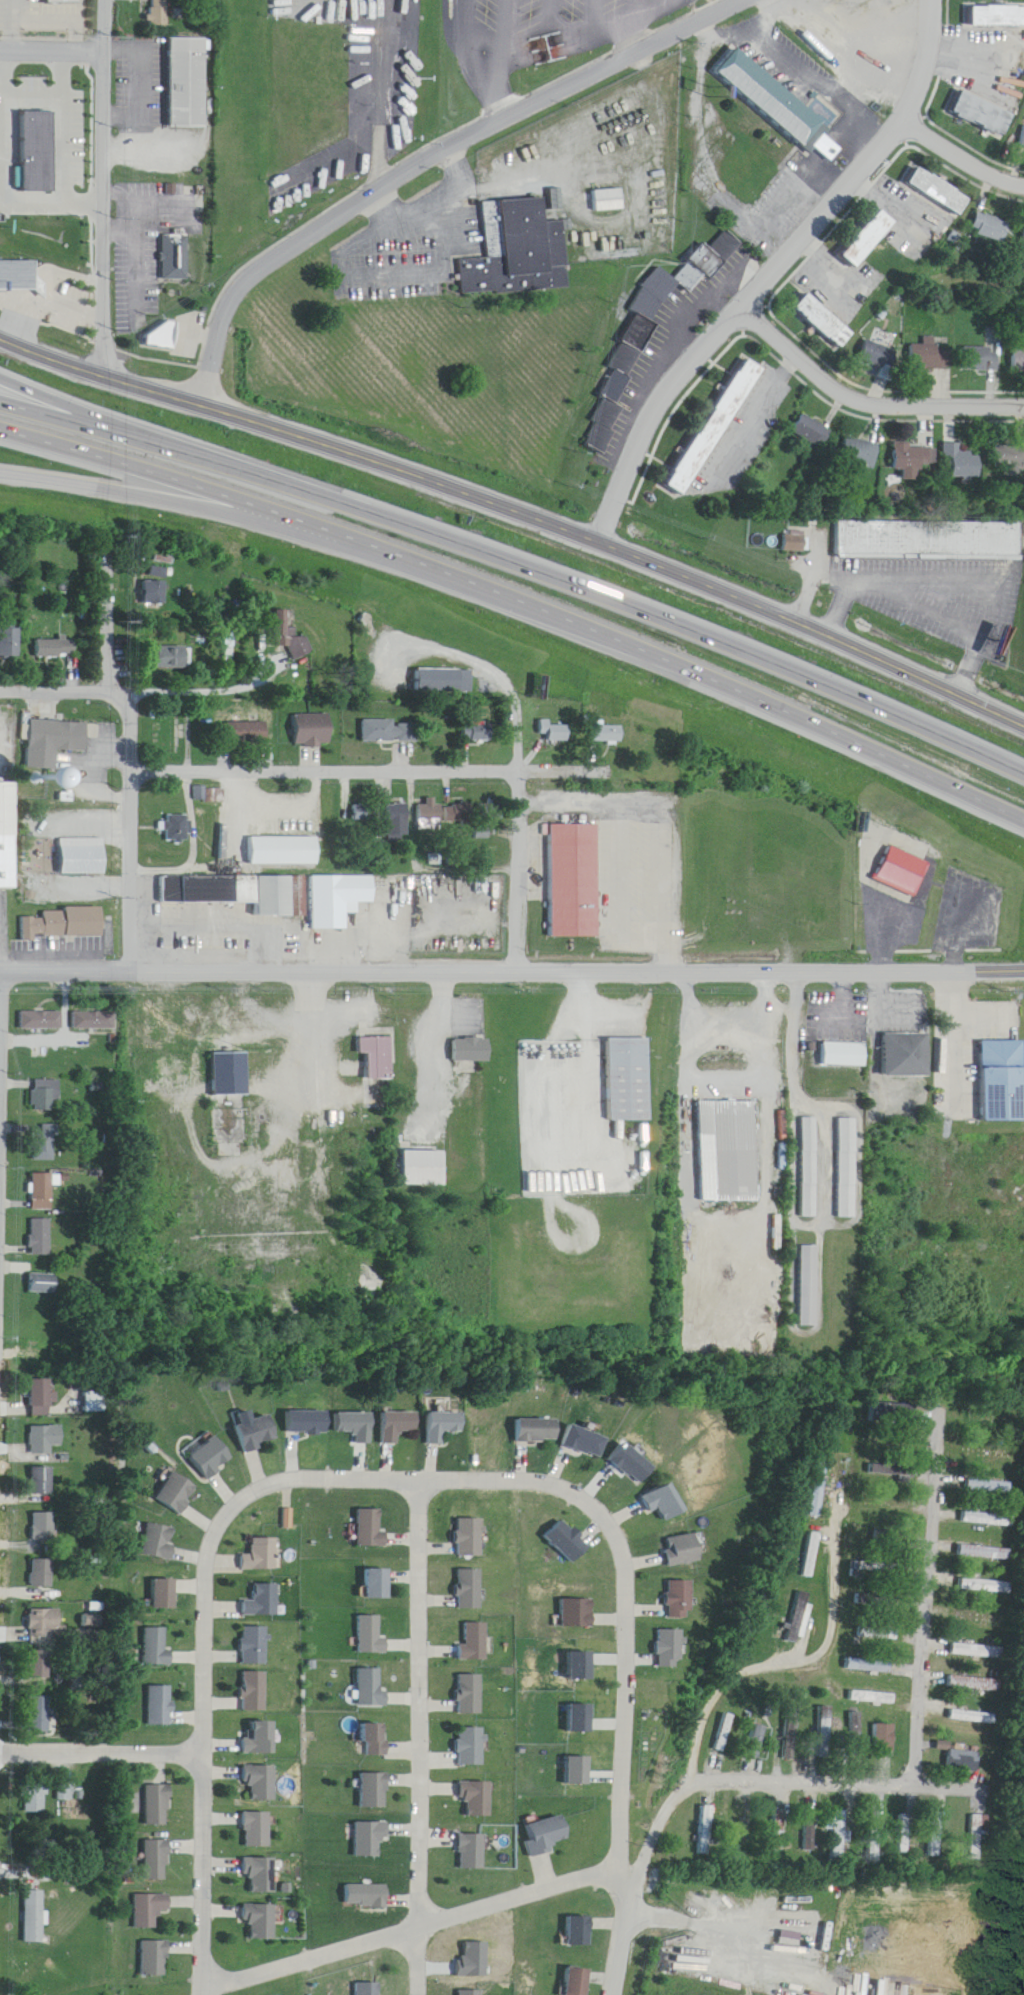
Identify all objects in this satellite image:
building: (65, 1)
building: (160, 12)
road: (465, 13)
building: (994, 15)
road: (633, 16)
road: (13, 25)
road: (486, 39)
road: (53, 51)
parking lot: (549, 51)
road: (507, 60)
road: (139, 78)
building: (190, 82)
building: (761, 82)
road: (32, 92)
road: (379, 95)
building: (983, 112)
road: (63, 126)
building: (32, 139)
building: (1023, 139)
building: (822, 143)
road: (962, 159)
road: (426, 162)
road: (1, 178)
road: (107, 189)
building: (937, 190)
building: (609, 201)
building: (992, 227)
building: (869, 239)
building: (1023, 239)
building: (172, 244)
building: (518, 252)
building: (16, 261)
road: (64, 270)
road: (775, 273)
building: (19, 276)
building: (684, 277)
road: (47, 299)
road: (685, 322)
building: (825, 322)
building: (879, 355)
building: (932, 357)
building: (983, 359)
building: (1018, 361)
road: (82, 397)
road: (867, 401)
road: (753, 418)
building: (717, 428)
building: (812, 431)
road: (301, 441)
building: (604, 441)
building: (861, 453)
building: (914, 457)
building: (1009, 459)
building: (964, 462)
road: (215, 512)
building: (931, 541)
building: (798, 543)
road: (518, 562)
road: (954, 579)
road: (813, 583)
building: (154, 594)
road: (520, 603)
road: (923, 606)
road: (104, 619)
building: (282, 624)
road: (814, 633)
building: (10, 645)
building: (59, 649)
building: (172, 657)
road: (489, 671)
road: (194, 680)
road: (106, 681)
building: (443, 681)
building: (311, 731)
building: (388, 732)
building: (476, 733)
building: (245, 734)
building: (605, 738)
building: (55, 742)
water tower: (39, 769)
road: (369, 776)
road: (664, 812)
building: (363, 813)
building: (296, 814)
building: (444, 815)
road: (237, 821)
building: (397, 821)
building: (176, 829)
building: (9, 836)
building: (282, 852)
building: (83, 857)
road: (521, 867)
road: (135, 870)
building: (905, 871)
building: (573, 882)
road: (622, 890)
building: (281, 896)
building: (66, 925)
road: (940, 961)
road: (428, 963)
building: (94, 1021)
building: (40, 1022)
road: (952, 1027)
road: (732, 1028)
road: (440, 1036)
building: (473, 1050)
road: (590, 1051)
building: (846, 1055)
building: (906, 1056)
building: (379, 1058)
building: (993, 1066)
road: (301, 1068)
building: (232, 1076)
building: (631, 1081)
road: (1, 1090)
building: (45, 1096)
building: (45, 1145)
building: (728, 1152)
building: (809, 1168)
building: (846, 1169)
building: (44, 1192)
building: (42, 1238)
building: (261, 1244)
building: (45, 1284)
building: (808, 1286)
building: (44, 1397)
building: (891, 1412)
building: (993, 1419)
building: (306, 1422)
building: (397, 1426)
building: (443, 1426)
building: (537, 1430)
building: (257, 1434)
building: (46, 1439)
building: (585, 1441)
building: (986, 1455)
building: (213, 1458)
building: (883, 1470)
building: (42, 1480)
road: (473, 1481)
building: (986, 1487)
building: (818, 1490)
building: (178, 1492)
building: (663, 1502)
building: (890, 1503)
building: (985, 1519)
building: (43, 1526)
building: (373, 1527)
building: (472, 1537)
building: (159, 1540)
building: (568, 1541)
building: (884, 1541)
building: (682, 1549)
building: (981, 1552)
building: (263, 1555)
building: (811, 1555)
building: (41, 1574)
building: (380, 1583)
building: (982, 1586)
building: (471, 1588)
building: (164, 1593)
building: (678, 1599)
road: (924, 1600)
building: (265, 1601)
building: (876, 1601)
building: (576, 1613)
building: (800, 1618)
building: (978, 1618)
building: (45, 1625)
building: (877, 1635)
building: (372, 1636)
building: (476, 1642)
building: (256, 1645)
building: (157, 1647)
building: (667, 1648)
building: (976, 1651)
road: (781, 1661)
building: (41, 1667)
building: (869, 1667)
building: (972, 1684)
building: (372, 1689)
building: (256, 1691)
building: (470, 1694)
building: (872, 1698)
building: (161, 1705)
building: (42, 1714)
building: (971, 1717)
building: (854, 1727)
building: (823, 1732)
building: (756, 1733)
building: (789, 1735)
road: (422, 1738)
building: (884, 1738)
building: (261, 1739)
building: (375, 1740)
road: (102, 1743)
building: (470, 1747)
building: (261, 1782)
road: (824, 1783)
building: (373, 1791)
building: (66, 1793)
building: (35, 1798)
building: (476, 1798)
building: (158, 1804)
building: (739, 1824)
building: (257, 1830)
building: (776, 1830)
building: (703, 1831)
building: (806, 1833)
building: (872, 1833)
building: (902, 1834)
building: (934, 1834)
building: (546, 1836)
building: (837, 1836)
building: (974, 1838)
building: (368, 1839)
building: (471, 1852)
building: (158, 1860)
road: (203, 1869)
building: (260, 1874)
road: (634, 1890)
building: (365, 1896)
building: (151, 1911)
road: (425, 1914)
road: (716, 1915)
building: (35, 1917)
building: (260, 1921)
building: (579, 1931)
building: (156, 1959)
building: (579, 1982)
building: (366, 1989)
building: (470, 1992)

